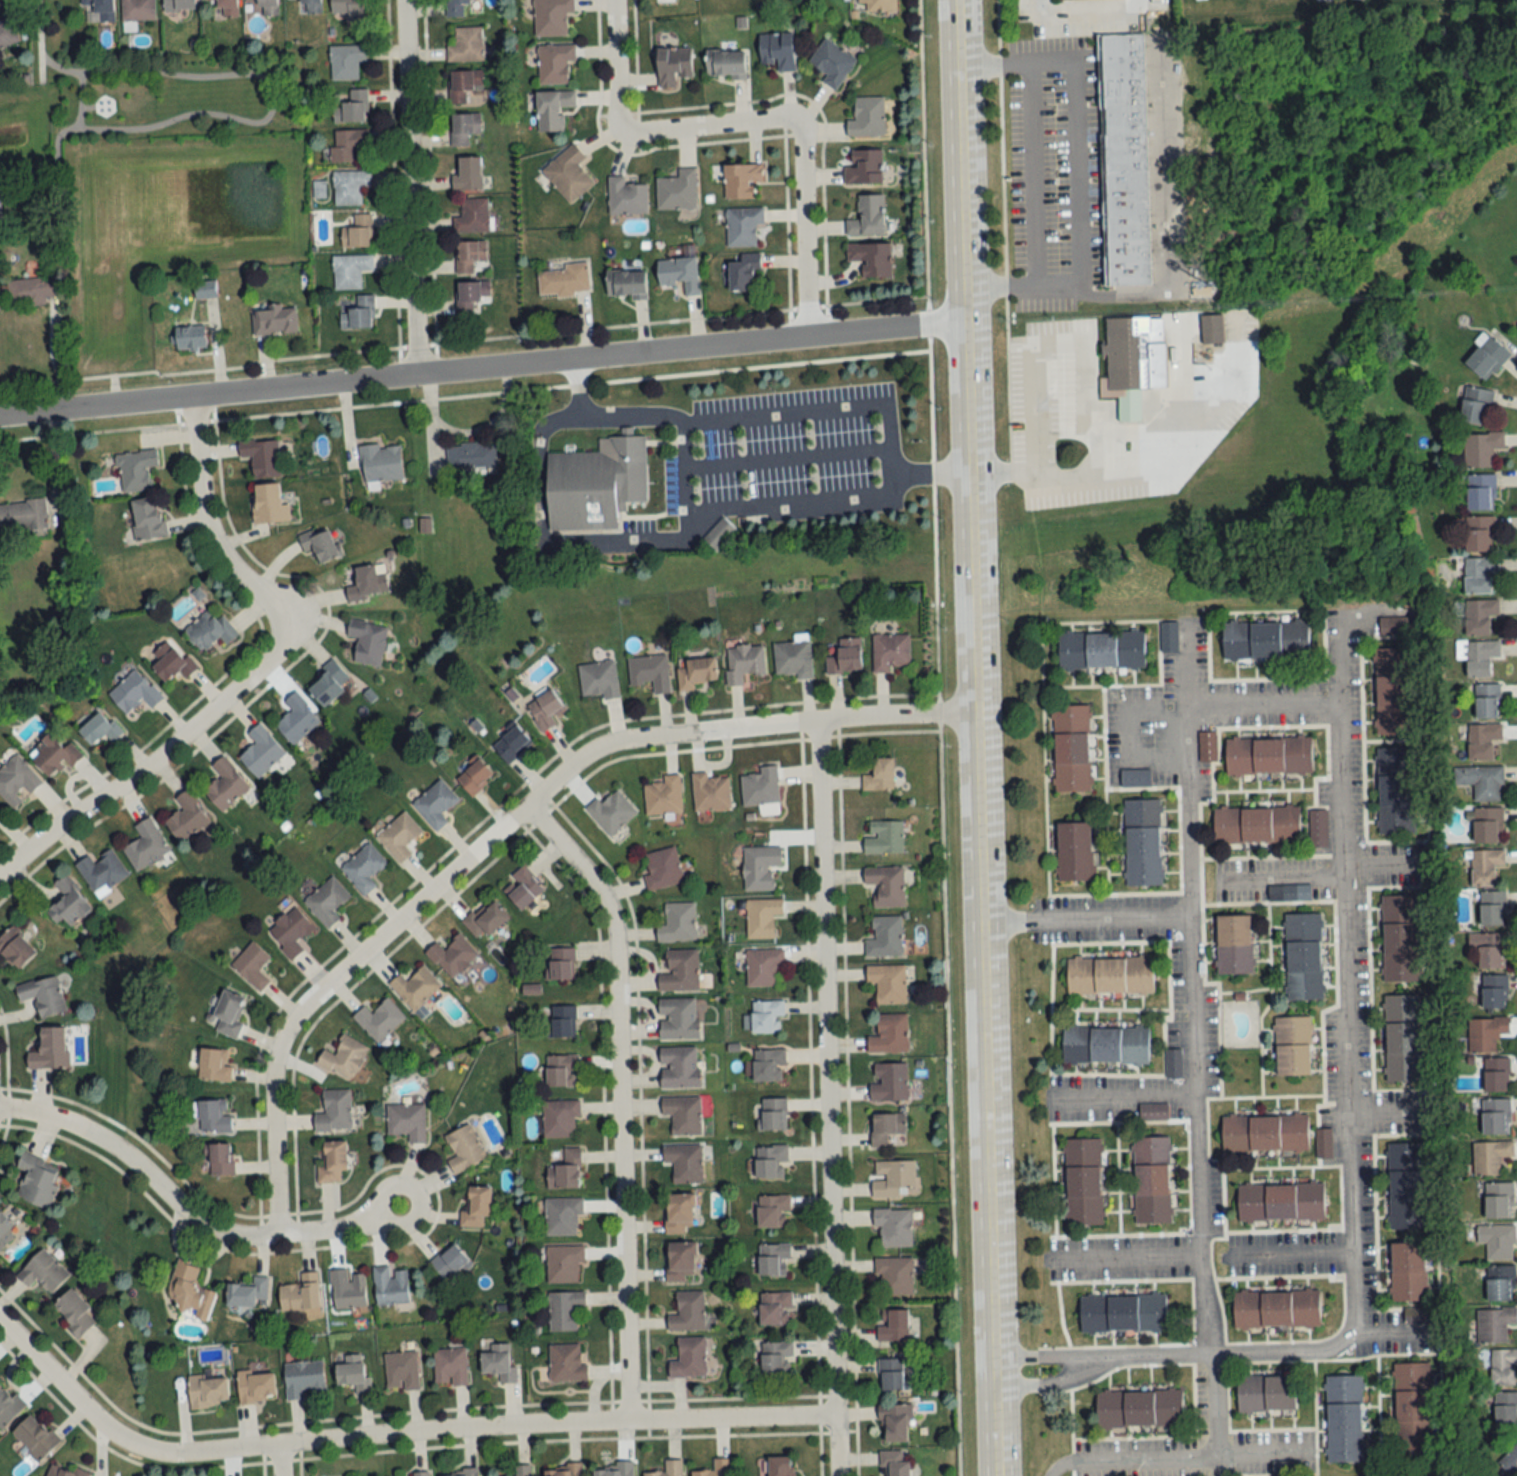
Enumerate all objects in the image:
building: (179, 4)
building: (880, 5)
building: (310, 6)
building: (267, 7)
building: (346, 7)
building: (222, 8)
building: (457, 8)
road: (1087, 9)
building: (101, 10)
building: (137, 10)
building: (552, 17)
building: (7, 31)
building: (464, 43)
building: (778, 49)
building: (346, 60)
building: (832, 61)
building: (554, 62)
building: (726, 63)
building: (673, 65)
road: (613, 66)
building: (464, 83)
park: (160, 97)
road: (270, 101)
road: (79, 102)
building: (351, 106)
building: (553, 108)
building: (867, 116)
road: (707, 126)
building: (464, 127)
road: (1039, 130)
building: (348, 143)
building: (1125, 158)
building: (864, 166)
building: (467, 172)
building: (568, 173)
building: (741, 179)
building: (349, 186)
road: (406, 187)
building: (677, 190)
building: (626, 196)
building: (0, 206)
building: (472, 215)
building: (868, 215)
building: (743, 225)
road: (802, 227)
building: (357, 232)
building: (469, 255)
building: (872, 257)
building: (349, 270)
building: (680, 272)
building: (745, 272)
road: (1168, 277)
building: (564, 280)
building: (626, 283)
building: (205, 289)
building: (30, 290)
building: (471, 295)
building: (356, 311)
building: (275, 319)
building: (1212, 328)
building: (189, 336)
road: (1056, 345)
road: (55, 356)
road: (259, 356)
building: (1486, 356)
building: (1133, 361)
road: (481, 369)
building: (1476, 404)
road: (468, 430)
building: (1481, 448)
road: (887, 453)
building: (262, 457)
building: (471, 458)
building: (381, 462)
road: (1068, 468)
building: (135, 469)
road: (928, 473)
building: (595, 485)
building: (1481, 491)
building: (268, 504)
building: (23, 515)
building: (147, 517)
building: (719, 533)
building: (1480, 533)
road: (618, 542)
building: (320, 544)
building: (1479, 574)
building: (368, 581)
building: (1480, 617)
building: (1398, 625)
building: (210, 629)
building: (1266, 639)
building: (367, 640)
building: (1101, 649)
building: (890, 651)
building: (844, 655)
building: (1481, 656)
building: (793, 658)
building: (172, 661)
building: (743, 663)
road: (251, 670)
building: (650, 672)
building: (695, 672)
building: (598, 679)
building: (328, 683)
building: (134, 691)
building: (1393, 691)
building: (1487, 700)
road: (1262, 704)
building: (545, 709)
building: (297, 719)
building: (100, 728)
road: (1128, 734)
road: (938, 738)
road: (973, 738)
building: (1482, 740)
building: (511, 743)
road: (1339, 744)
building: (1071, 748)
building: (261, 751)
building: (53, 754)
building: (1268, 756)
building: (1395, 759)
building: (878, 773)
building: (474, 776)
building: (1135, 777)
building: (16, 781)
building: (1481, 781)
building: (226, 785)
building: (760, 787)
building: (710, 792)
building: (663, 796)
building: (435, 803)
building: (1396, 803)
building: (0, 810)
building: (1142, 811)
building: (611, 812)
building: (186, 817)
building: (1256, 825)
building: (1488, 825)
road: (500, 827)
building: (399, 836)
building: (883, 836)
building: (146, 845)
building: (1074, 851)
building: (1143, 856)
road: (1382, 862)
building: (760, 866)
building: (1485, 866)
building: (363, 867)
building: (662, 868)
building: (102, 872)
road: (1283, 874)
building: (886, 885)
building: (523, 887)
building: (326, 901)
building: (68, 903)
building: (1493, 908)
building: (762, 917)
road: (1084, 918)
building: (485, 920)
building: (676, 922)
building: (290, 931)
building: (884, 936)
building: (1400, 937)
building: (1234, 944)
building: (14, 949)
building: (1490, 949)
building: (451, 956)
building: (1303, 956)
building: (562, 964)
building: (252, 965)
building: (764, 967)
building: (680, 971)
building: (1110, 976)
building: (887, 983)
building: (415, 987)
building: (1494, 992)
building: (42, 995)
building: (229, 1012)
building: (767, 1017)
building: (678, 1018)
building: (378, 1019)
building: (563, 1021)
building: (1486, 1033)
building: (889, 1034)
building: (1402, 1038)
building: (1105, 1045)
building: (1293, 1046)
road: (1192, 1048)
building: (50, 1049)
building: (343, 1057)
building: (214, 1064)
building: (769, 1065)
building: (679, 1067)
building: (560, 1070)
building: (1497, 1075)
building: (889, 1081)
road: (615, 1097)
road: (824, 1098)
road: (1119, 1098)
road: (1344, 1109)
building: (334, 1111)
building: (683, 1114)
building: (773, 1114)
road: (1387, 1114)
building: (213, 1115)
building: (1496, 1117)
building: (560, 1119)
building: (407, 1121)
building: (887, 1129)
building: (1264, 1133)
building: (464, 1149)
building: (1405, 1154)
building: (1490, 1157)
building: (219, 1159)
building: (331, 1161)
building: (771, 1161)
building: (684, 1162)
building: (566, 1171)
building: (894, 1178)
building: (37, 1180)
building: (1151, 1180)
building: (1083, 1182)
building: (1497, 1199)
building: (1406, 1200)
building: (1280, 1202)
building: (476, 1207)
building: (771, 1211)
building: (679, 1213)
road: (187, 1215)
building: (562, 1216)
building: (893, 1226)
building: (5, 1231)
building: (1497, 1241)
road: (1287, 1253)
building: (773, 1259)
road: (1121, 1261)
building: (449, 1262)
building: (681, 1262)
building: (564, 1263)
building: (43, 1272)
building: (1408, 1272)
building: (894, 1276)
building: (1500, 1283)
building: (390, 1286)
building: (347, 1290)
building: (190, 1291)
building: (248, 1293)
building: (300, 1294)
building: (775, 1308)
building: (1276, 1309)
building: (564, 1310)
building: (687, 1312)
building: (74, 1313)
building: (1122, 1313)
building: (892, 1324)
building: (1494, 1324)
road: (1385, 1331)
building: (776, 1357)
building: (688, 1358)
road: (1162, 1359)
building: (499, 1363)
building: (566, 1363)
building: (449, 1367)
building: (1503, 1367)
building: (401, 1371)
building: (353, 1374)
building: (891, 1374)
building: (303, 1378)
building: (256, 1387)
building: (208, 1391)
building: (1266, 1394)
building: (1412, 1406)
building: (9, 1407)
building: (1139, 1409)
building: (1505, 1409)
building: (1344, 1418)
building: (894, 1424)
road: (392, 1436)
building: (35, 1437)
road: (1174, 1454)
building: (1510, 1459)
road: (274, 1461)
building: (894, 1463)
building: (781, 1466)
building: (668, 1469)
building: (716, 1469)
building: (522, 1470)
building: (617, 1470)
building: (63, 1471)
building: (563, 1471)
building: (420, 1473)
building: (459, 1473)

